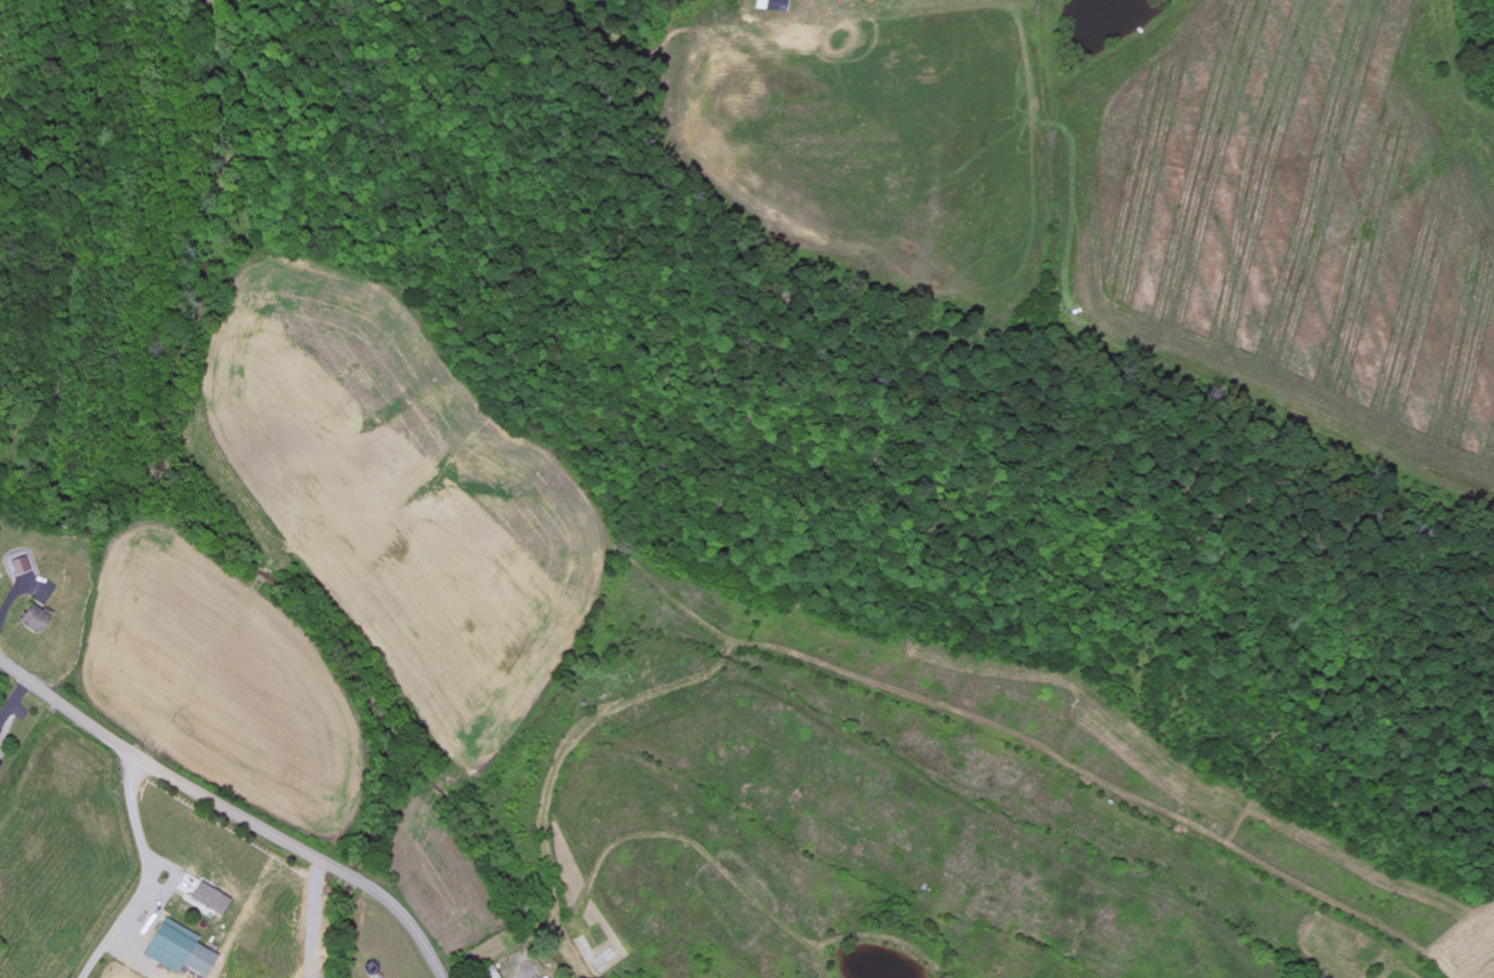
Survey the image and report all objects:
building: (772, 6)
building: (20, 567)
building: (33, 620)
building: (0, 766)
road: (229, 813)
building: (209, 900)
building: (177, 950)

